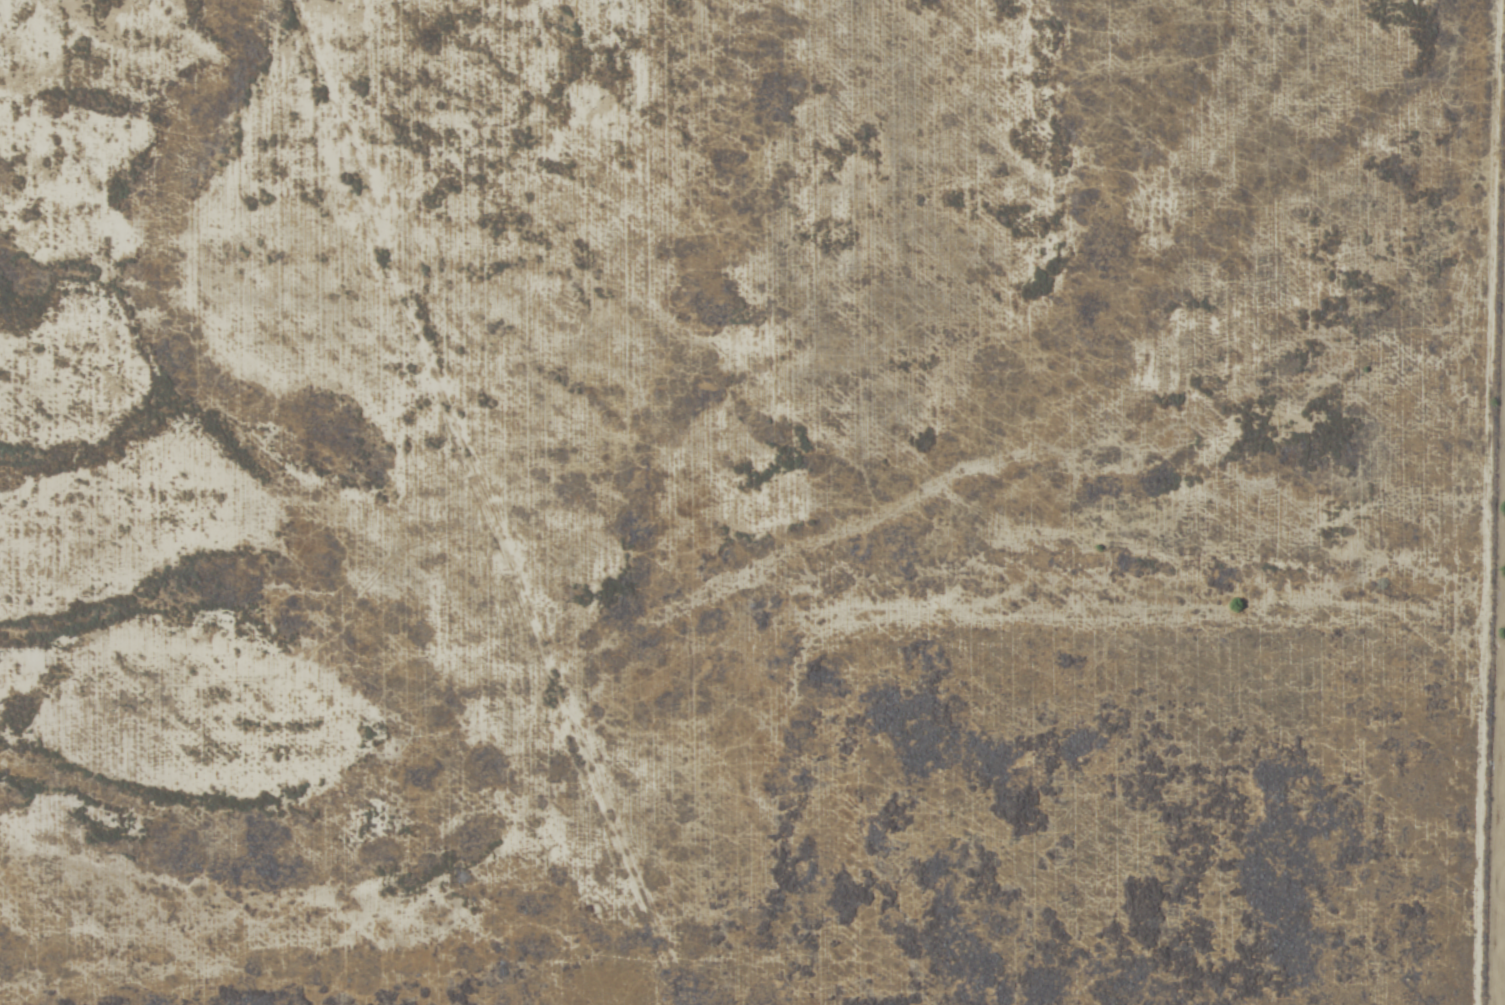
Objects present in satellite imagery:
crop: (1039, 809)

